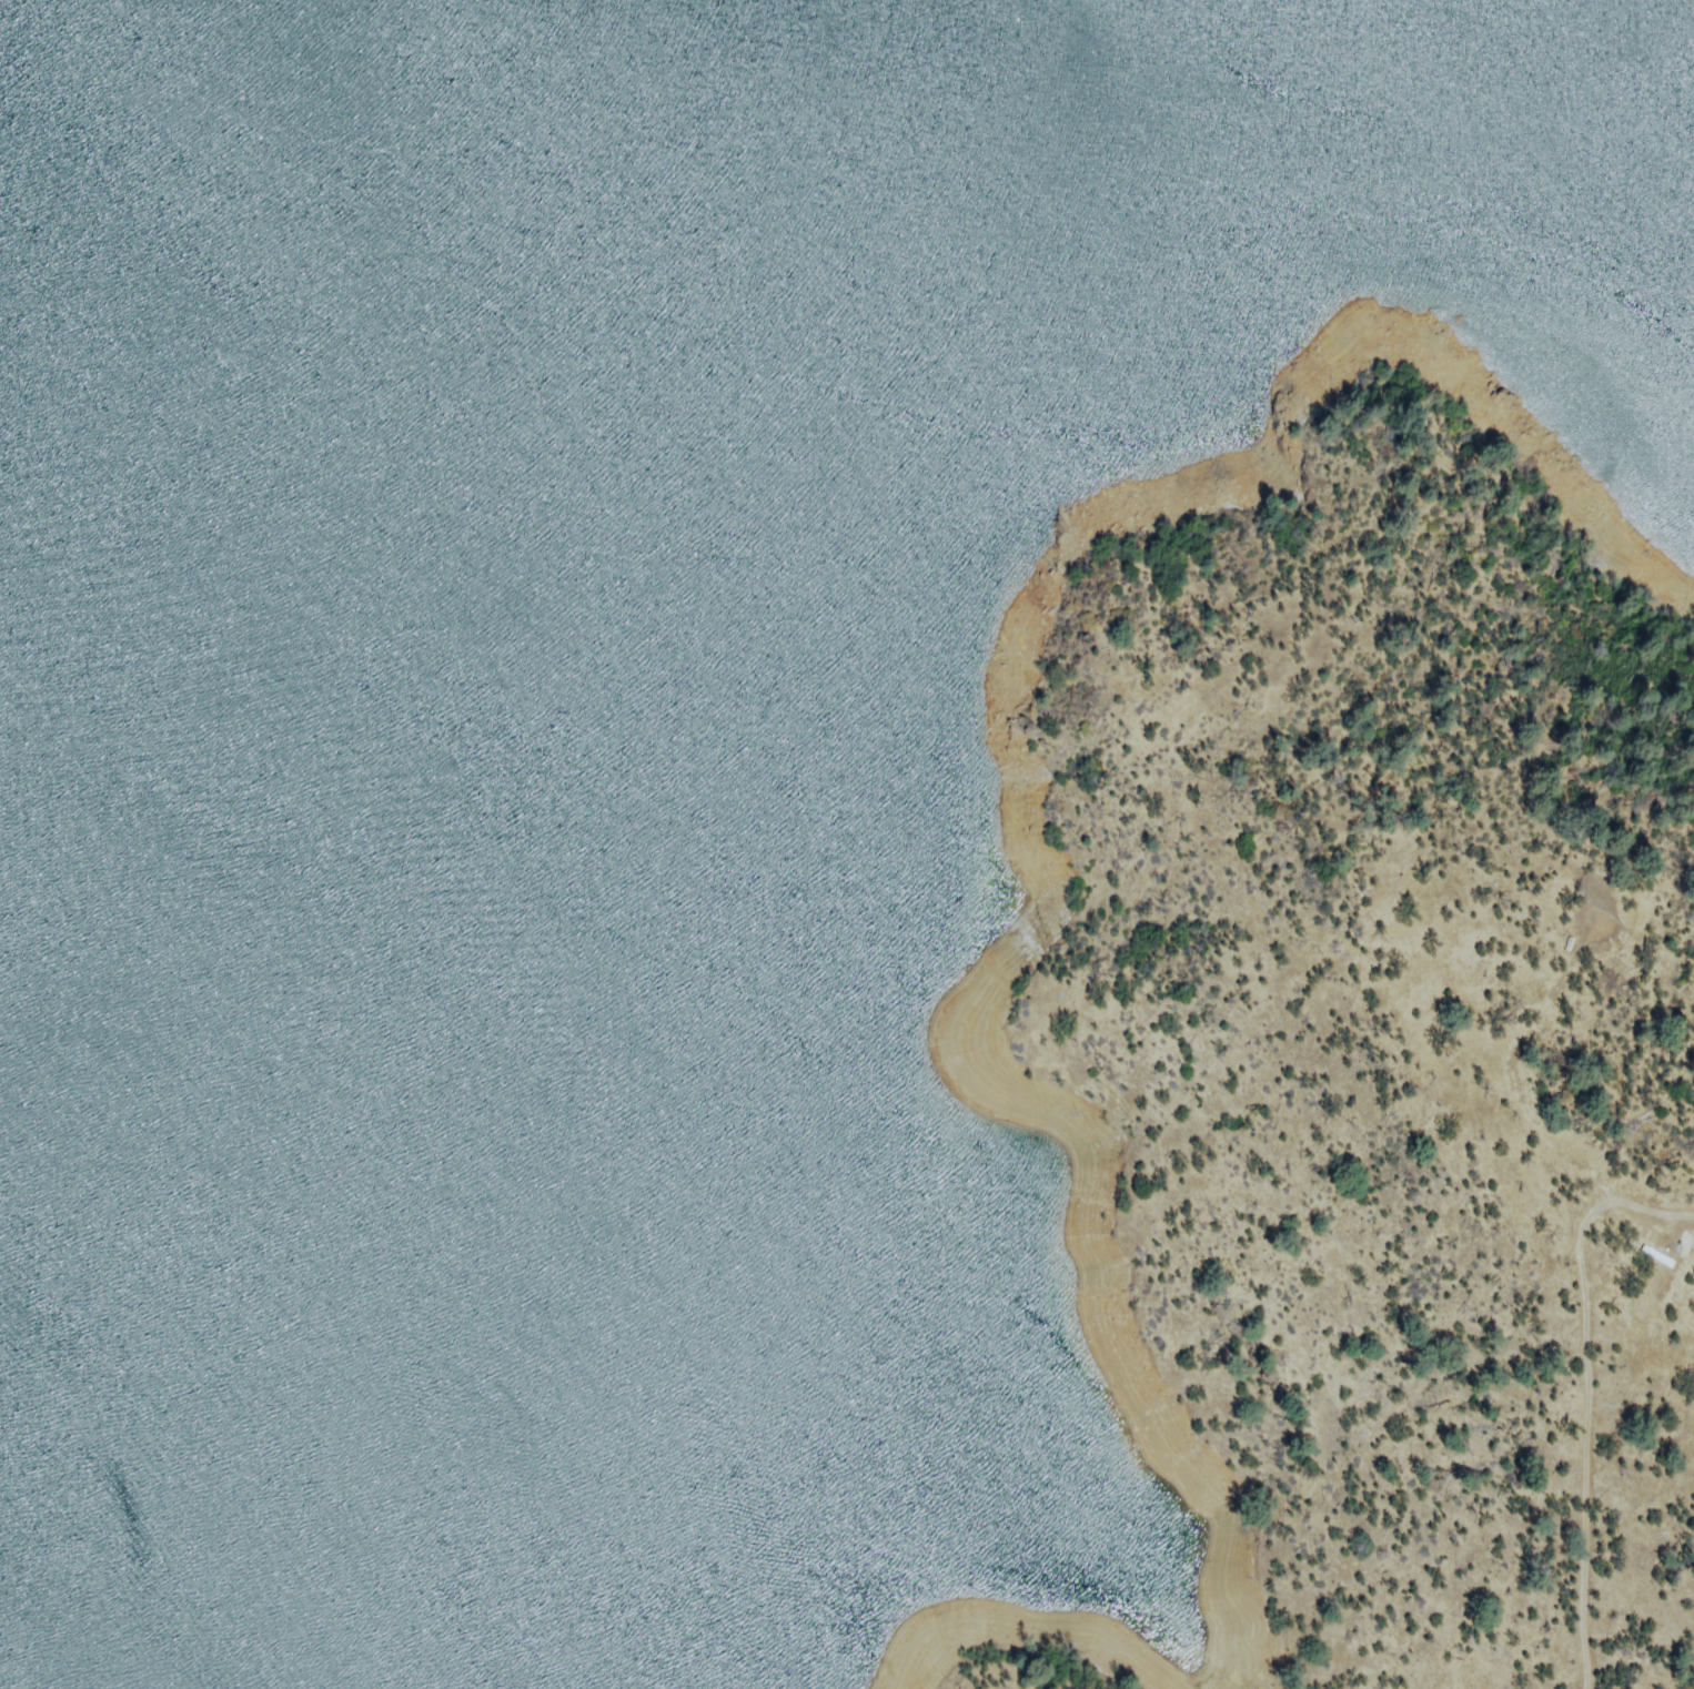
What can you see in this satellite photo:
river: (445, 468)
building: (397, 552)
building: (1668, 1260)

